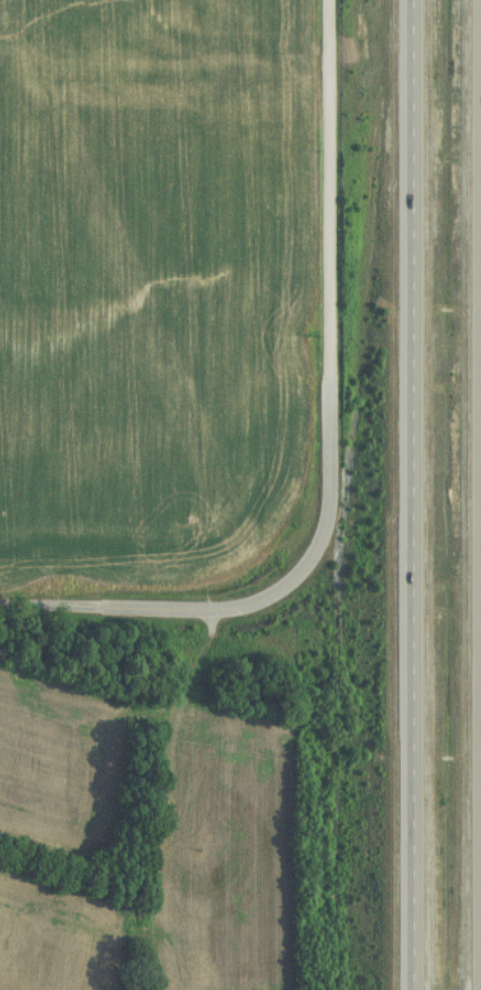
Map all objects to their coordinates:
road: (325, 314)
road: (476, 494)
road: (407, 495)
road: (127, 608)

